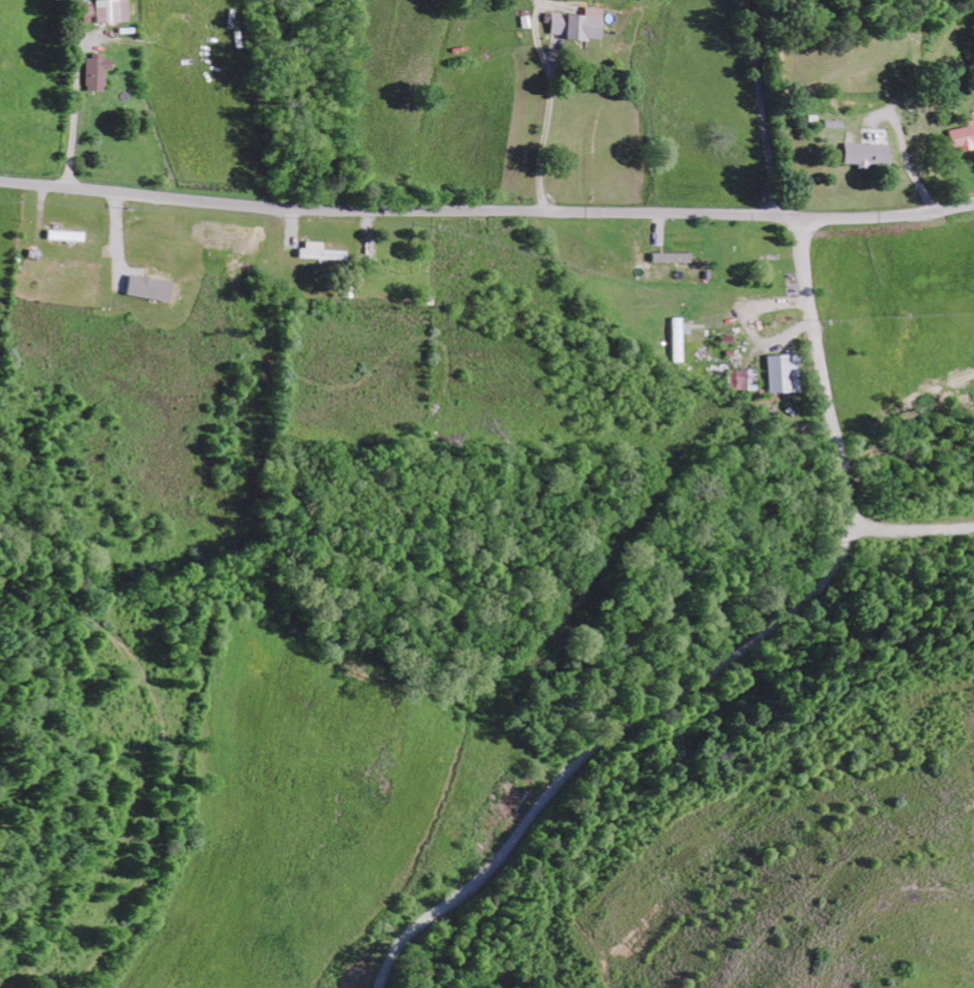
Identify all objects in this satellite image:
building: (116, 10)
building: (577, 25)
building: (101, 72)
road: (764, 108)
building: (962, 137)
building: (861, 156)
road: (486, 212)
building: (324, 252)
building: (669, 258)
building: (154, 288)
building: (778, 374)
building: (741, 380)
road: (732, 654)

